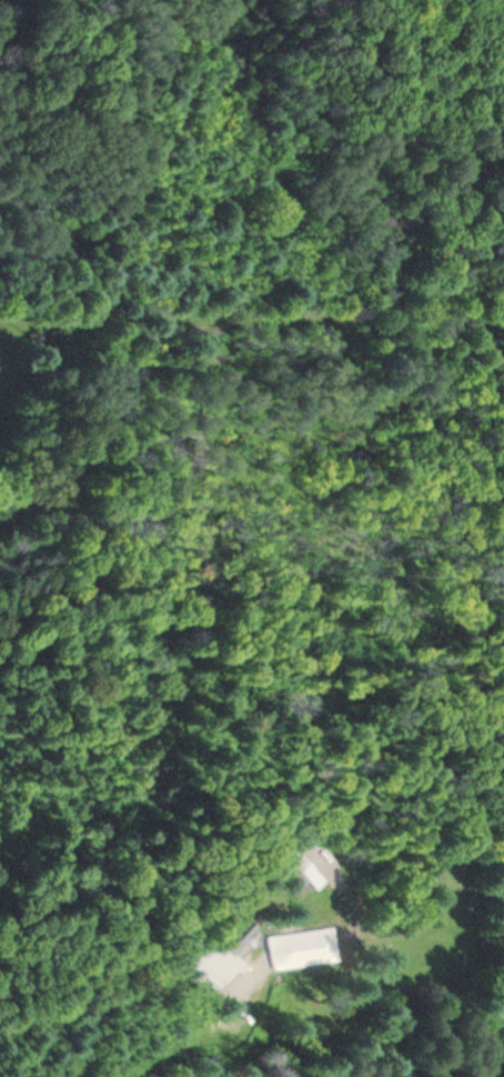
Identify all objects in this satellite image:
building: (299, 874)
building: (226, 953)
road: (170, 1047)

